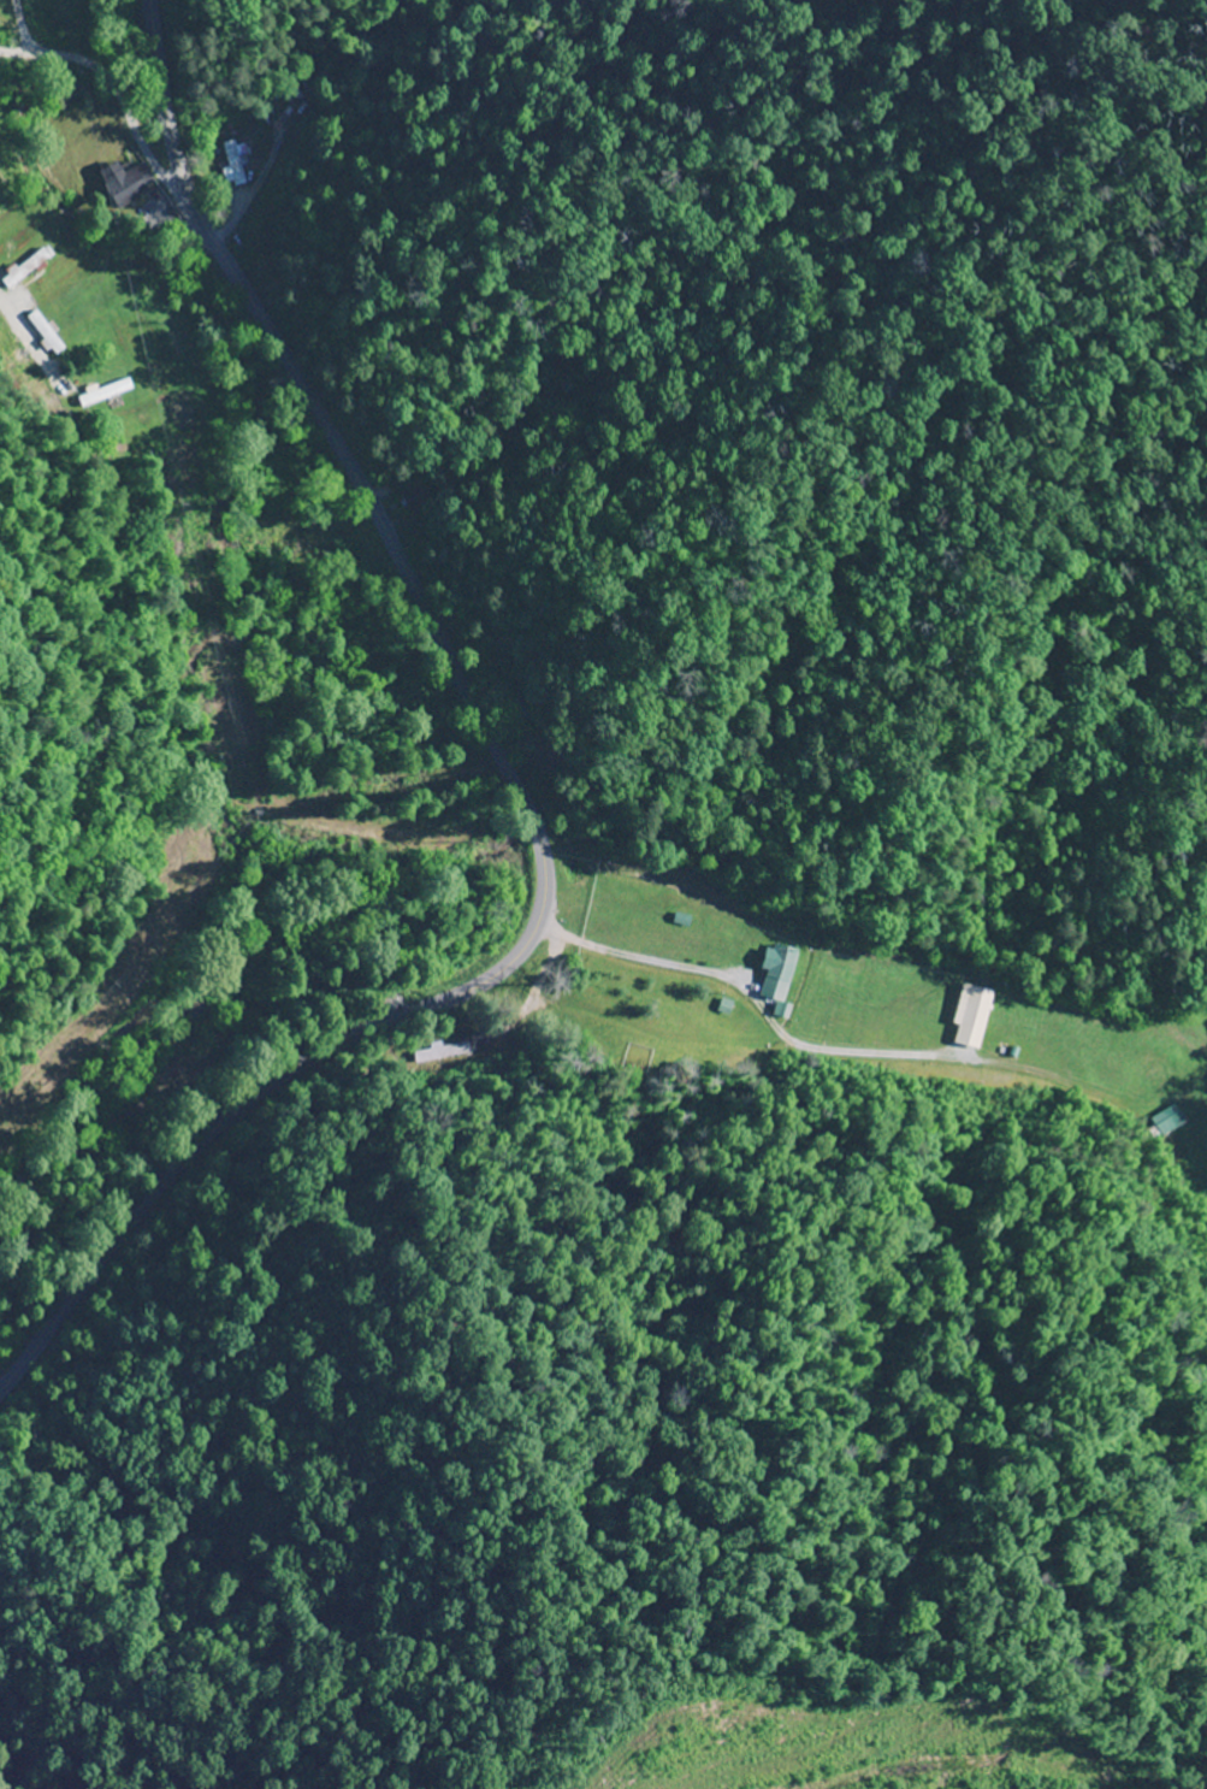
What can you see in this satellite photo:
road: (119, 90)
building: (233, 166)
building: (126, 183)
building: (413, 497)
building: (508, 693)
road: (515, 786)
building: (776, 973)
building: (442, 1052)
building: (1166, 1121)

